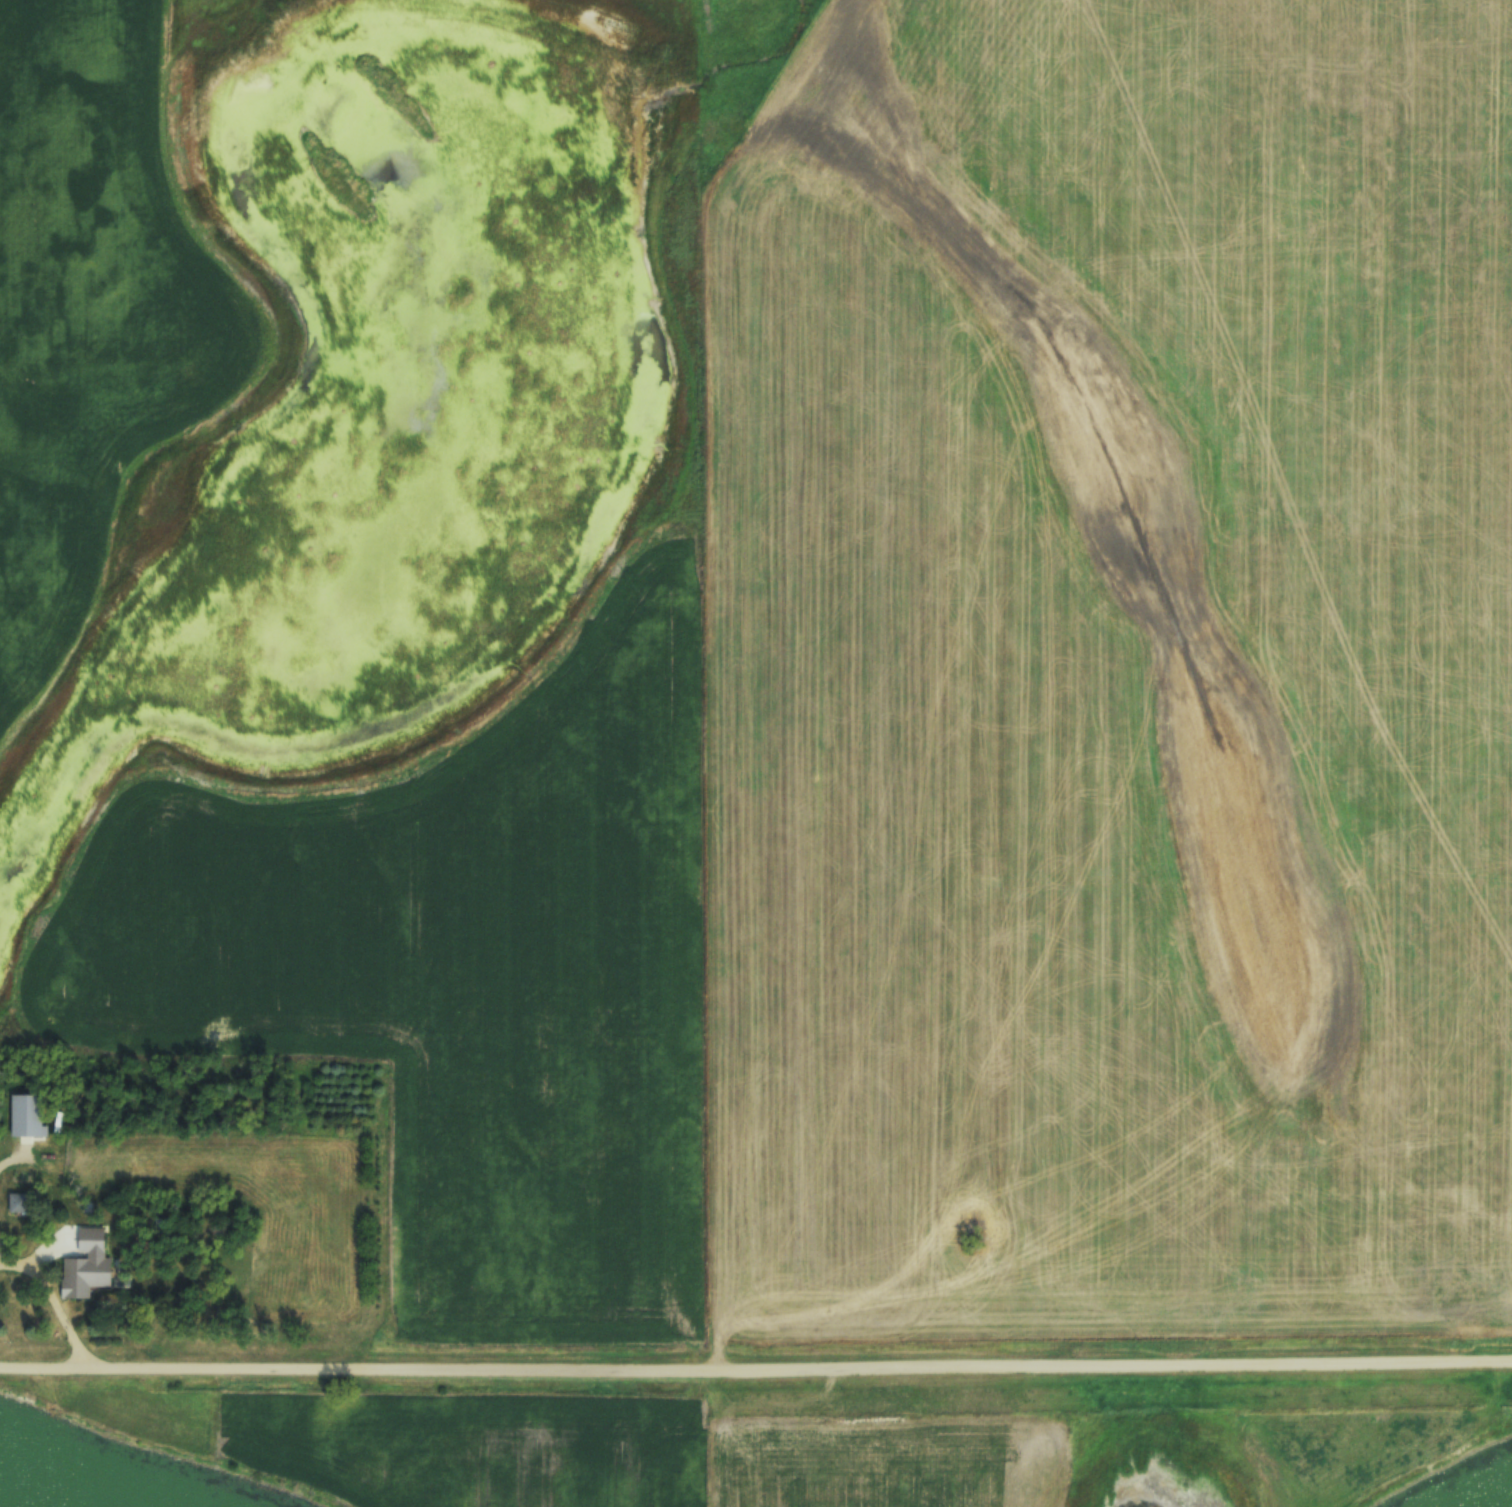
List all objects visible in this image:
building: (19, 1204)
building: (70, 1237)
building: (78, 1283)
road: (56, 1301)
road: (758, 1372)

